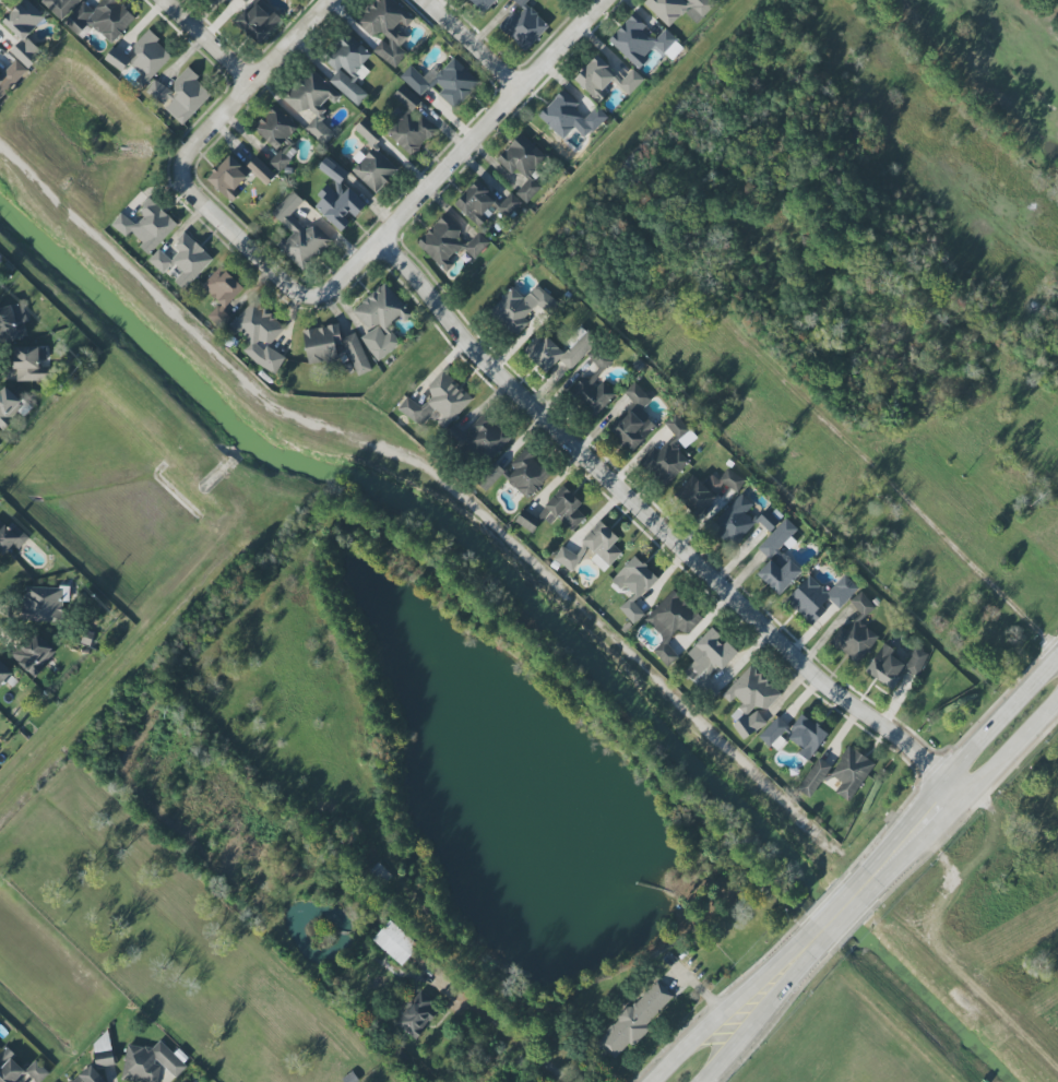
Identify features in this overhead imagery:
building: (483, 4)
building: (60, 7)
building: (679, 9)
building: (100, 19)
building: (259, 21)
building: (523, 25)
building: (387, 29)
building: (24, 32)
road: (214, 41)
building: (639, 41)
road: (480, 46)
building: (148, 57)
building: (117, 59)
building: (347, 66)
building: (11, 76)
road: (260, 79)
building: (605, 79)
building: (442, 82)
building: (161, 93)
building: (187, 96)
building: (312, 102)
building: (570, 117)
building: (409, 123)
building: (275, 127)
road: (469, 153)
building: (280, 160)
building: (523, 165)
building: (236, 176)
building: (337, 198)
building: (475, 203)
building: (509, 204)
building: (146, 226)
building: (299, 236)
road: (240, 240)
building: (449, 242)
building: (182, 260)
building: (222, 295)
building: (521, 308)
building: (380, 320)
building: (12, 323)
building: (259, 335)
building: (334, 347)
building: (560, 349)
building: (31, 364)
building: (592, 393)
building: (438, 403)
building: (8, 406)
building: (633, 419)
building: (482, 439)
building: (665, 462)
building: (526, 473)
building: (490, 477)
road: (888, 483)
building: (710, 490)
building: (563, 509)
building: (769, 519)
building: (527, 521)
building: (734, 521)
road: (665, 531)
building: (11, 537)
building: (602, 546)
building: (566, 558)
building: (778, 559)
building: (634, 578)
building: (819, 596)
building: (43, 604)
building: (631, 610)
building: (670, 623)
building: (855, 632)
building: (34, 654)
building: (709, 661)
building: (916, 662)
building: (885, 666)
building: (4, 674)
building: (750, 701)
building: (773, 732)
building: (807, 736)
building: (851, 772)
road: (950, 772)
building: (813, 777)
road: (961, 802)
road: (830, 907)
road: (844, 923)
building: (395, 942)
road: (732, 1002)
road: (768, 1012)
building: (417, 1015)
building: (635, 1019)
road: (514, 1037)
building: (150, 1063)
building: (10, 1068)
building: (36, 1071)
building: (88, 1075)

